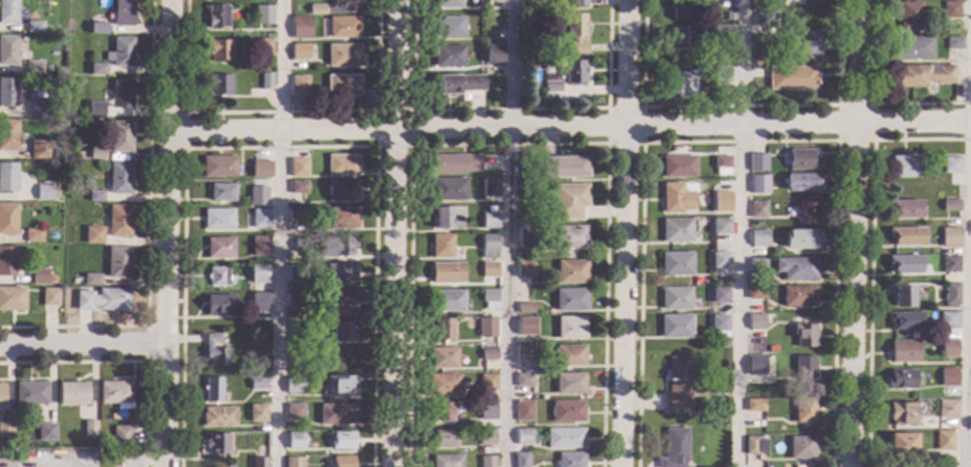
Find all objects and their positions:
building: (345, 2)
building: (578, 3)
building: (448, 4)
building: (531, 7)
building: (316, 8)
building: (679, 9)
building: (950, 9)
building: (8, 11)
building: (120, 13)
building: (263, 14)
building: (908, 15)
building: (216, 16)
building: (729, 16)
building: (764, 17)
building: (34, 26)
building: (301, 26)
building: (449, 26)
building: (343, 27)
building: (97, 28)
building: (573, 31)
building: (719, 33)
building: (680, 37)
building: (952, 42)
building: (263, 45)
building: (803, 45)
building: (912, 47)
building: (219, 49)
building: (8, 50)
building: (121, 51)
building: (300, 51)
building: (449, 54)
building: (495, 54)
building: (343, 55)
building: (718, 55)
building: (33, 67)
building: (97, 68)
building: (570, 70)
building: (720, 74)
building: (922, 74)
building: (790, 77)
building: (266, 80)
building: (680, 82)
building: (457, 83)
building: (549, 83)
building: (218, 84)
building: (299, 84)
building: (343, 85)
building: (8, 92)
building: (121, 94)
road: (872, 101)
road: (736, 105)
building: (39, 107)
road: (507, 108)
building: (94, 109)
road: (277, 111)
building: (33, 122)
road: (568, 126)
road: (184, 130)
building: (8, 135)
building: (119, 136)
road: (870, 139)
road: (739, 140)
road: (509, 143)
road: (640, 143)
road: (410, 145)
road: (280, 146)
building: (39, 149)
building: (96, 153)
building: (76, 154)
building: (798, 158)
building: (756, 162)
building: (455, 163)
building: (342, 164)
building: (721, 165)
building: (950, 165)
building: (218, 166)
building: (677, 166)
building: (901, 166)
building: (298, 167)
building: (563, 167)
building: (261, 169)
building: (8, 177)
building: (118, 178)
building: (801, 181)
building: (757, 183)
building: (298, 186)
building: (491, 186)
building: (449, 189)
building: (342, 190)
building: (43, 192)
building: (222, 192)
building: (95, 195)
building: (257, 195)
building: (675, 198)
building: (567, 200)
building: (720, 201)
building: (949, 205)
building: (904, 208)
building: (756, 210)
building: (806, 212)
building: (296, 216)
building: (341, 217)
building: (7, 218)
building: (260, 218)
building: (446, 218)
building: (218, 219)
building: (491, 219)
building: (118, 220)
building: (698, 222)
building: (720, 226)
building: (676, 230)
road: (164, 233)
road: (278, 233)
road: (392, 233)
road: (507, 233)
road: (624, 233)
road: (737, 233)
road: (851, 233)
road: (967, 233)
building: (92, 234)
building: (33, 235)
building: (527, 236)
building: (569, 236)
building: (904, 236)
building: (758, 237)
building: (949, 237)
building: (800, 238)
building: (259, 245)
building: (301, 245)
building: (441, 245)
building: (338, 246)
building: (489, 246)
building: (219, 247)
road: (869, 253)
building: (719, 259)
building: (7, 260)
building: (117, 262)
building: (676, 263)
building: (755, 263)
building: (904, 263)
building: (949, 263)
building: (795, 267)
building: (489, 269)
building: (526, 269)
building: (570, 271)
building: (296, 272)
building: (447, 272)
building: (258, 273)
building: (340, 273)
building: (39, 276)
building: (218, 276)
building: (91, 279)
building: (754, 292)
building: (950, 293)
building: (719, 295)
building: (900, 295)
building: (49, 296)
building: (798, 296)
building: (12, 298)
building: (489, 298)
building: (675, 298)
building: (102, 299)
building: (296, 299)
building: (569, 299)
building: (447, 300)
building: (259, 301)
building: (340, 301)
building: (219, 304)
building: (949, 306)
building: (525, 308)
building: (903, 320)
building: (947, 320)
building: (755, 321)
building: (719, 324)
building: (315, 325)
building: (525, 326)
building: (675, 326)
building: (486, 327)
building: (570, 327)
building: (442, 329)
building: (298, 330)
building: (343, 331)
building: (803, 334)
building: (524, 337)
road: (81, 344)
building: (948, 348)
building: (771, 349)
building: (902, 350)
building: (214, 351)
building: (525, 352)
building: (488, 353)
building: (569, 355)
building: (443, 358)
building: (754, 365)
building: (803, 366)
building: (947, 376)
building: (900, 378)
building: (524, 379)
building: (258, 382)
building: (488, 382)
building: (568, 383)
building: (341, 384)
building: (443, 384)
building: (677, 384)
building: (293, 385)
building: (212, 389)
building: (114, 391)
building: (30, 393)
building: (72, 393)
building: (1, 394)
building: (753, 404)
building: (947, 408)
building: (487, 409)
building: (804, 409)
building: (442, 411)
building: (524, 411)
building: (567, 411)
building: (294, 412)
building: (902, 412)
building: (257, 413)
building: (336, 413)
building: (218, 416)
building: (708, 420)
building: (89, 427)
building: (6, 429)
building: (46, 431)
building: (121, 435)
building: (523, 436)
building: (487, 437)
building: (564, 437)
building: (442, 439)
building: (295, 440)
building: (342, 440)
building: (943, 440)
building: (217, 443)
building: (902, 444)
building: (754, 445)
building: (800, 447)
building: (674, 448)
building: (569, 459)
building: (520, 460)
building: (341, 461)
building: (446, 461)
building: (487, 461)
building: (259, 462)
building: (294, 462)
road: (43, 465)

